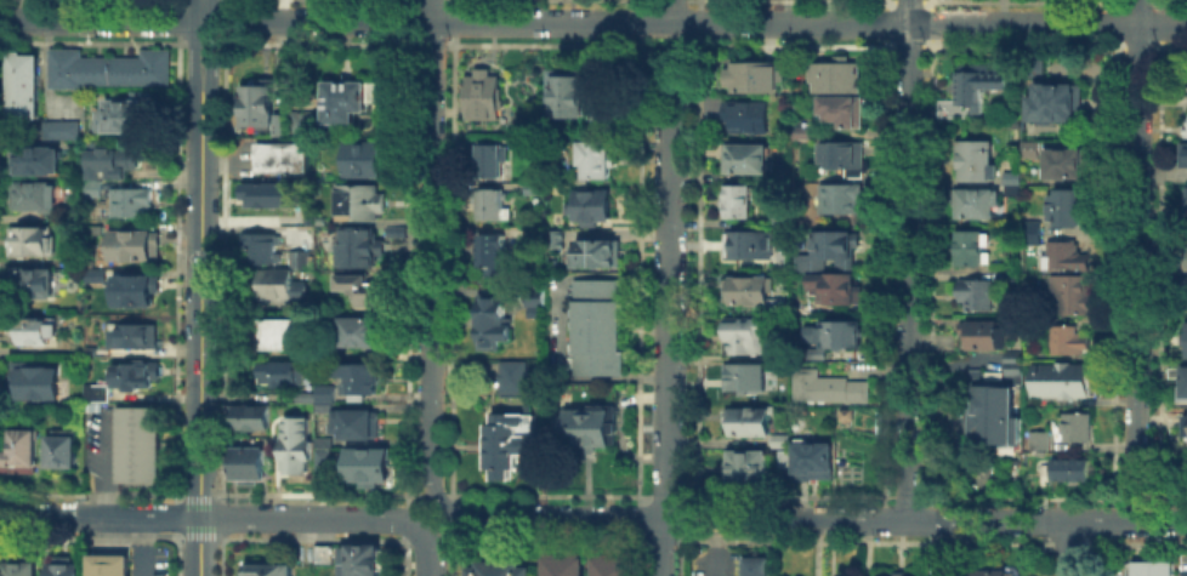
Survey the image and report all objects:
road: (204, 0)
road: (670, 11)
road: (593, 21)
road: (204, 40)
road: (195, 45)
road: (212, 45)
building: (1034, 61)
road: (647, 62)
road: (688, 64)
building: (106, 67)
building: (834, 74)
building: (752, 75)
building: (979, 81)
building: (27, 87)
building: (484, 93)
building: (568, 96)
building: (342, 99)
building: (256, 101)
building: (1055, 101)
building: (952, 107)
building: (841, 108)
building: (738, 112)
building: (129, 116)
building: (301, 118)
building: (598, 120)
building: (279, 122)
building: (59, 127)
building: (392, 127)
building: (1185, 127)
building: (802, 131)
building: (235, 132)
building: (392, 139)
building: (529, 141)
building: (626, 143)
building: (1030, 148)
building: (1182, 153)
building: (283, 155)
building: (842, 155)
parking lot: (242, 158)
building: (360, 158)
building: (489, 159)
building: (592, 159)
building: (743, 159)
building: (975, 159)
building: (1064, 161)
building: (39, 162)
road: (222, 162)
building: (113, 167)
building: (1011, 176)
building: (534, 186)
building: (1012, 188)
building: (266, 192)
building: (840, 195)
building: (35, 196)
building: (358, 199)
building: (737, 199)
building: (976, 200)
building: (490, 203)
building: (1186, 203)
building: (132, 204)
building: (590, 205)
building: (1066, 205)
building: (545, 215)
building: (779, 215)
building: (75, 217)
building: (1032, 224)
building: (96, 228)
building: (392, 228)
building: (532, 232)
building: (556, 236)
building: (1032, 236)
building: (751, 241)
building: (38, 243)
building: (359, 245)
road: (430, 246)
building: (970, 246)
building: (261, 247)
building: (135, 249)
building: (828, 249)
building: (595, 251)
building: (493, 252)
building: (1064, 255)
building: (1185, 256)
building: (299, 257)
road: (905, 260)
road: (1135, 261)
building: (1013, 276)
building: (279, 284)
building: (36, 285)
building: (359, 286)
building: (834, 286)
building: (748, 287)
building: (1074, 290)
building: (1183, 291)
building: (137, 292)
building: (976, 292)
building: (535, 296)
building: (778, 302)
building: (803, 307)
building: (490, 316)
parking lot: (558, 325)
road: (560, 325)
building: (596, 325)
building: (39, 331)
building: (360, 331)
building: (834, 331)
road: (199, 332)
building: (285, 332)
building: (744, 333)
building: (983, 333)
building: (1067, 337)
building: (136, 338)
building: (1185, 338)
road: (666, 341)
building: (93, 350)
building: (779, 350)
building: (1175, 350)
building: (816, 352)
building: (1012, 354)
building: (779, 360)
building: (1012, 366)
building: (285, 370)
building: (132, 373)
building: (744, 375)
building: (357, 377)
building: (512, 377)
building: (1063, 377)
building: (1179, 378)
building: (36, 383)
building: (827, 386)
building: (96, 389)
building: (323, 392)
building: (303, 394)
building: (322, 405)
building: (845, 414)
building: (251, 415)
building: (993, 415)
building: (749, 418)
building: (354, 421)
building: (589, 426)
building: (1074, 426)
building: (1185, 426)
building: (779, 439)
building: (1038, 439)
building: (323, 440)
building: (509, 440)
building: (295, 444)
building: (142, 446)
building: (66, 450)
building: (22, 454)
building: (322, 457)
building: (784, 457)
building: (811, 457)
building: (246, 462)
building: (368, 464)
building: (746, 464)
road: (108, 467)
building: (1068, 467)
road: (415, 506)
road: (442, 506)
road: (820, 518)
road: (218, 519)
road: (443, 531)
road: (140, 547)
road: (715, 547)
road: (1064, 548)
building: (322, 552)
building: (360, 558)
road: (426, 560)
parking lot: (716, 560)
building: (564, 564)
building: (613, 564)
building: (754, 564)
parking lot: (1182, 564)
building: (113, 566)
building: (498, 568)
parking lot: (1120, 568)
building: (1152, 568)
building: (23, 569)
building: (267, 569)
building: (69, 570)
building: (989, 572)
building: (897, 574)

